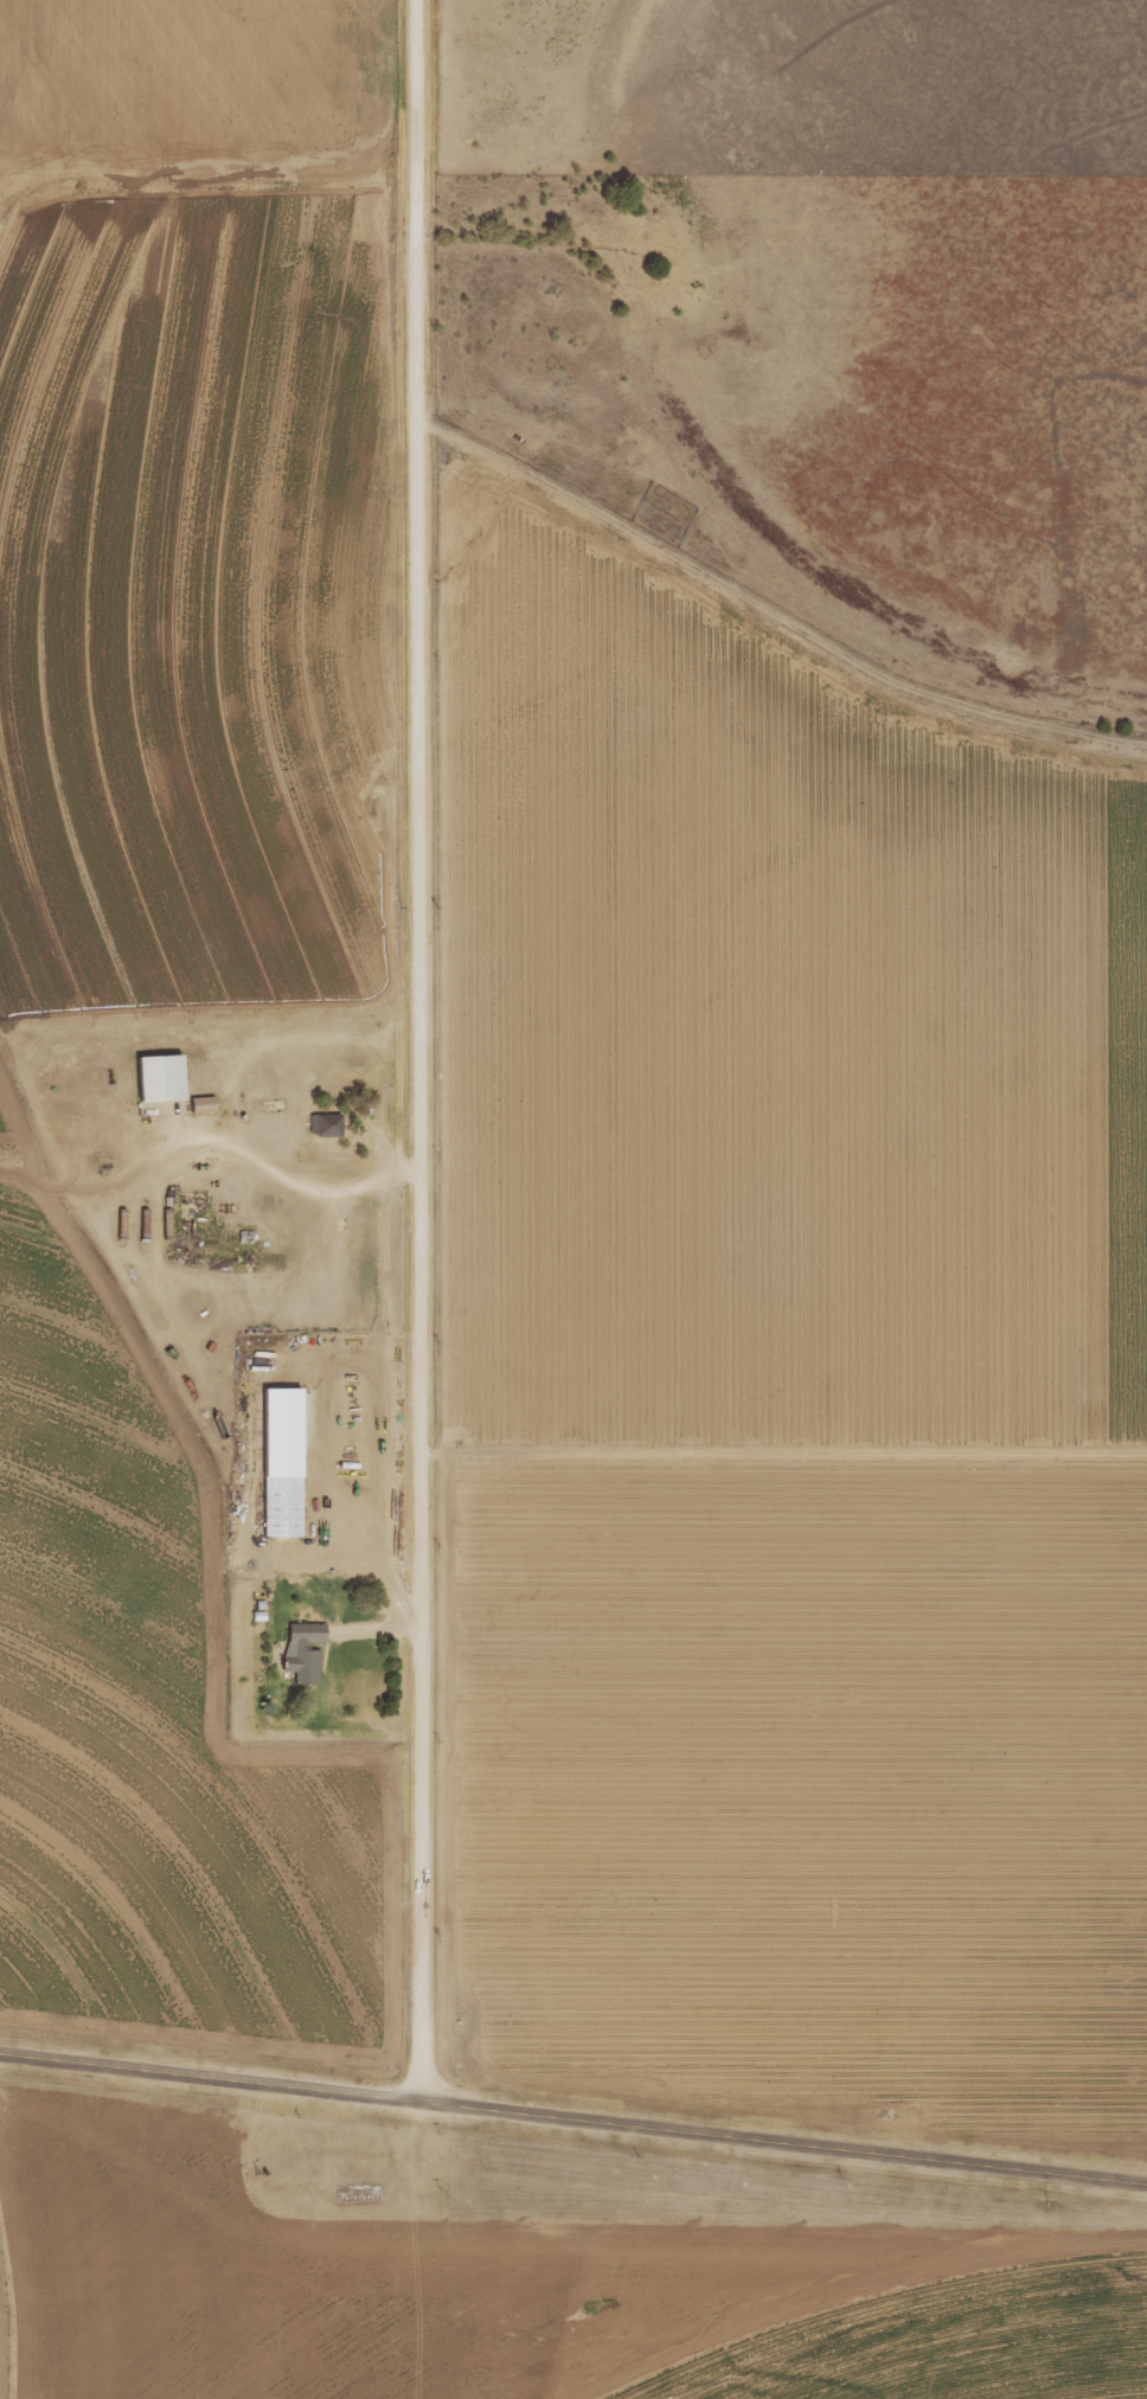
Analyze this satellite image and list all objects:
road: (421, 1053)
building: (169, 1078)
building: (210, 1105)
building: (332, 1127)
road: (297, 1192)
building: (290, 1507)
building: (312, 1653)
road: (572, 2124)

